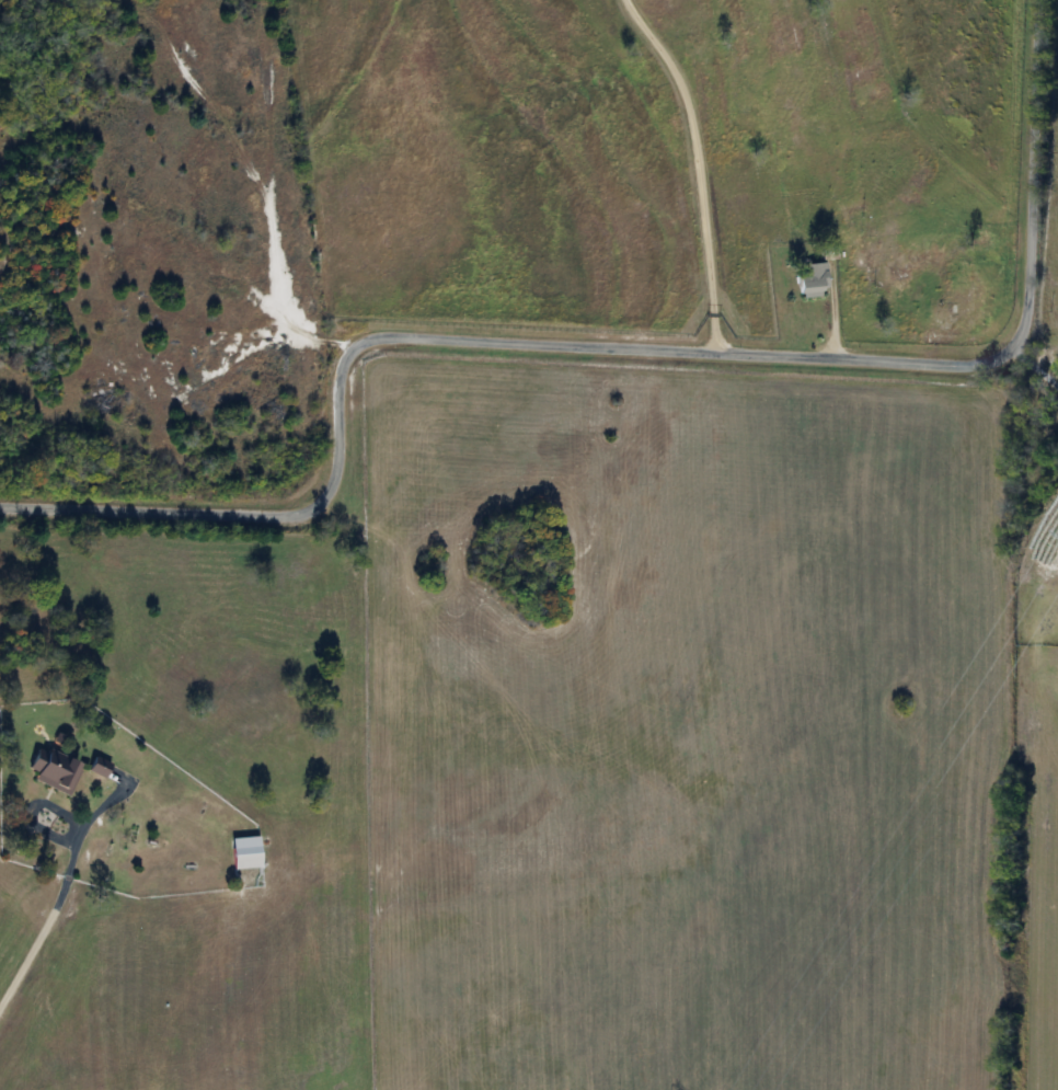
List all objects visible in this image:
road: (699, 168)
building: (814, 280)
road: (618, 348)
road: (1035, 368)
building: (99, 768)
building: (54, 771)
building: (245, 853)
road: (58, 900)

